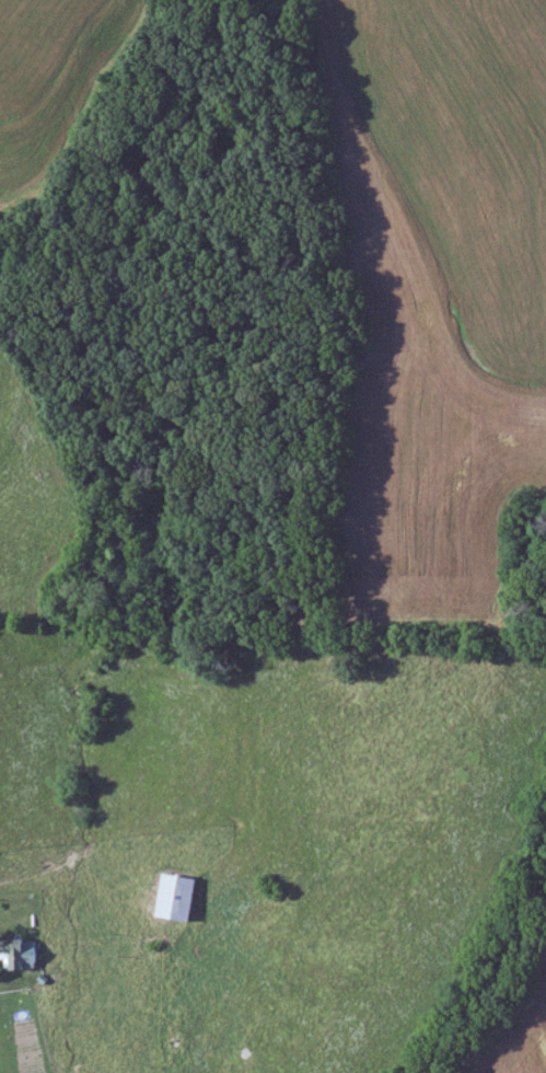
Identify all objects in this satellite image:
building: (172, 900)
building: (18, 956)

